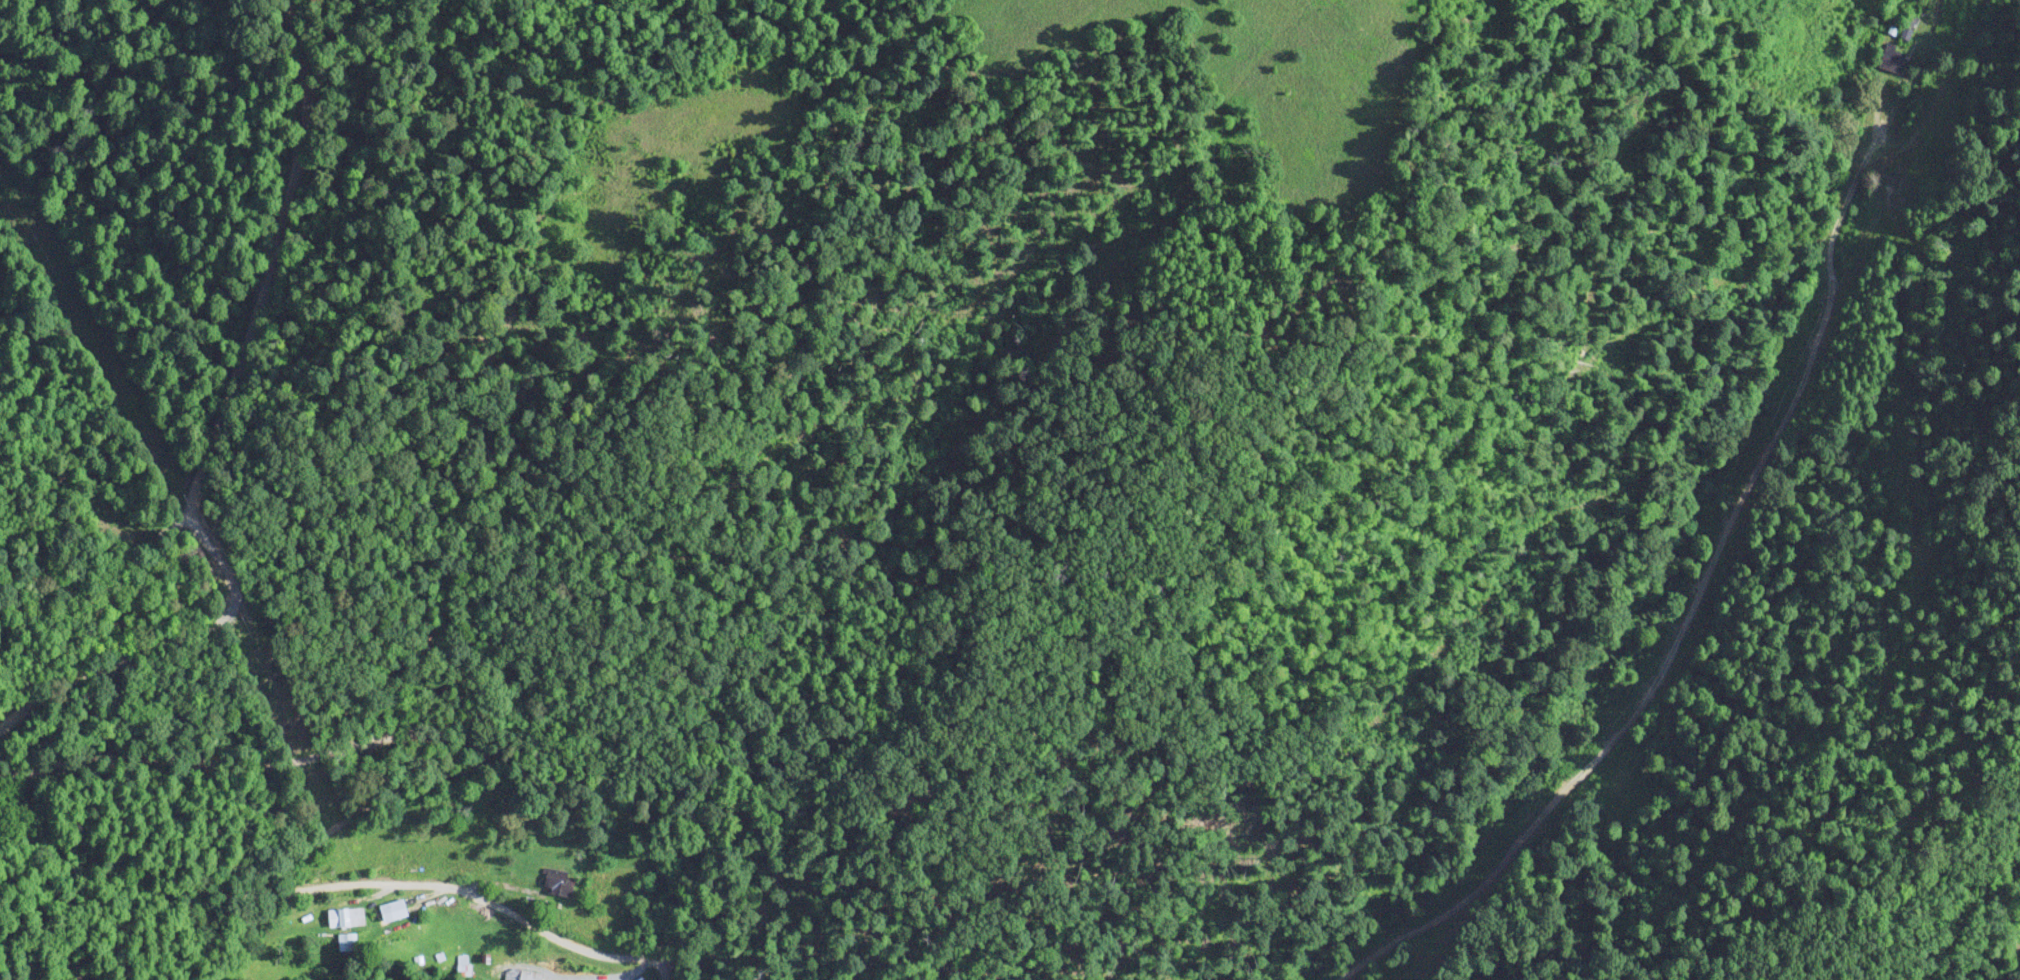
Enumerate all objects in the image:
building: (1903, 33)
building: (1890, 56)
road: (204, 363)
road: (1642, 609)
road: (412, 754)
building: (556, 880)
building: (390, 910)
building: (343, 916)
building: (345, 944)
building: (461, 964)
building: (527, 974)
building: (573, 979)

